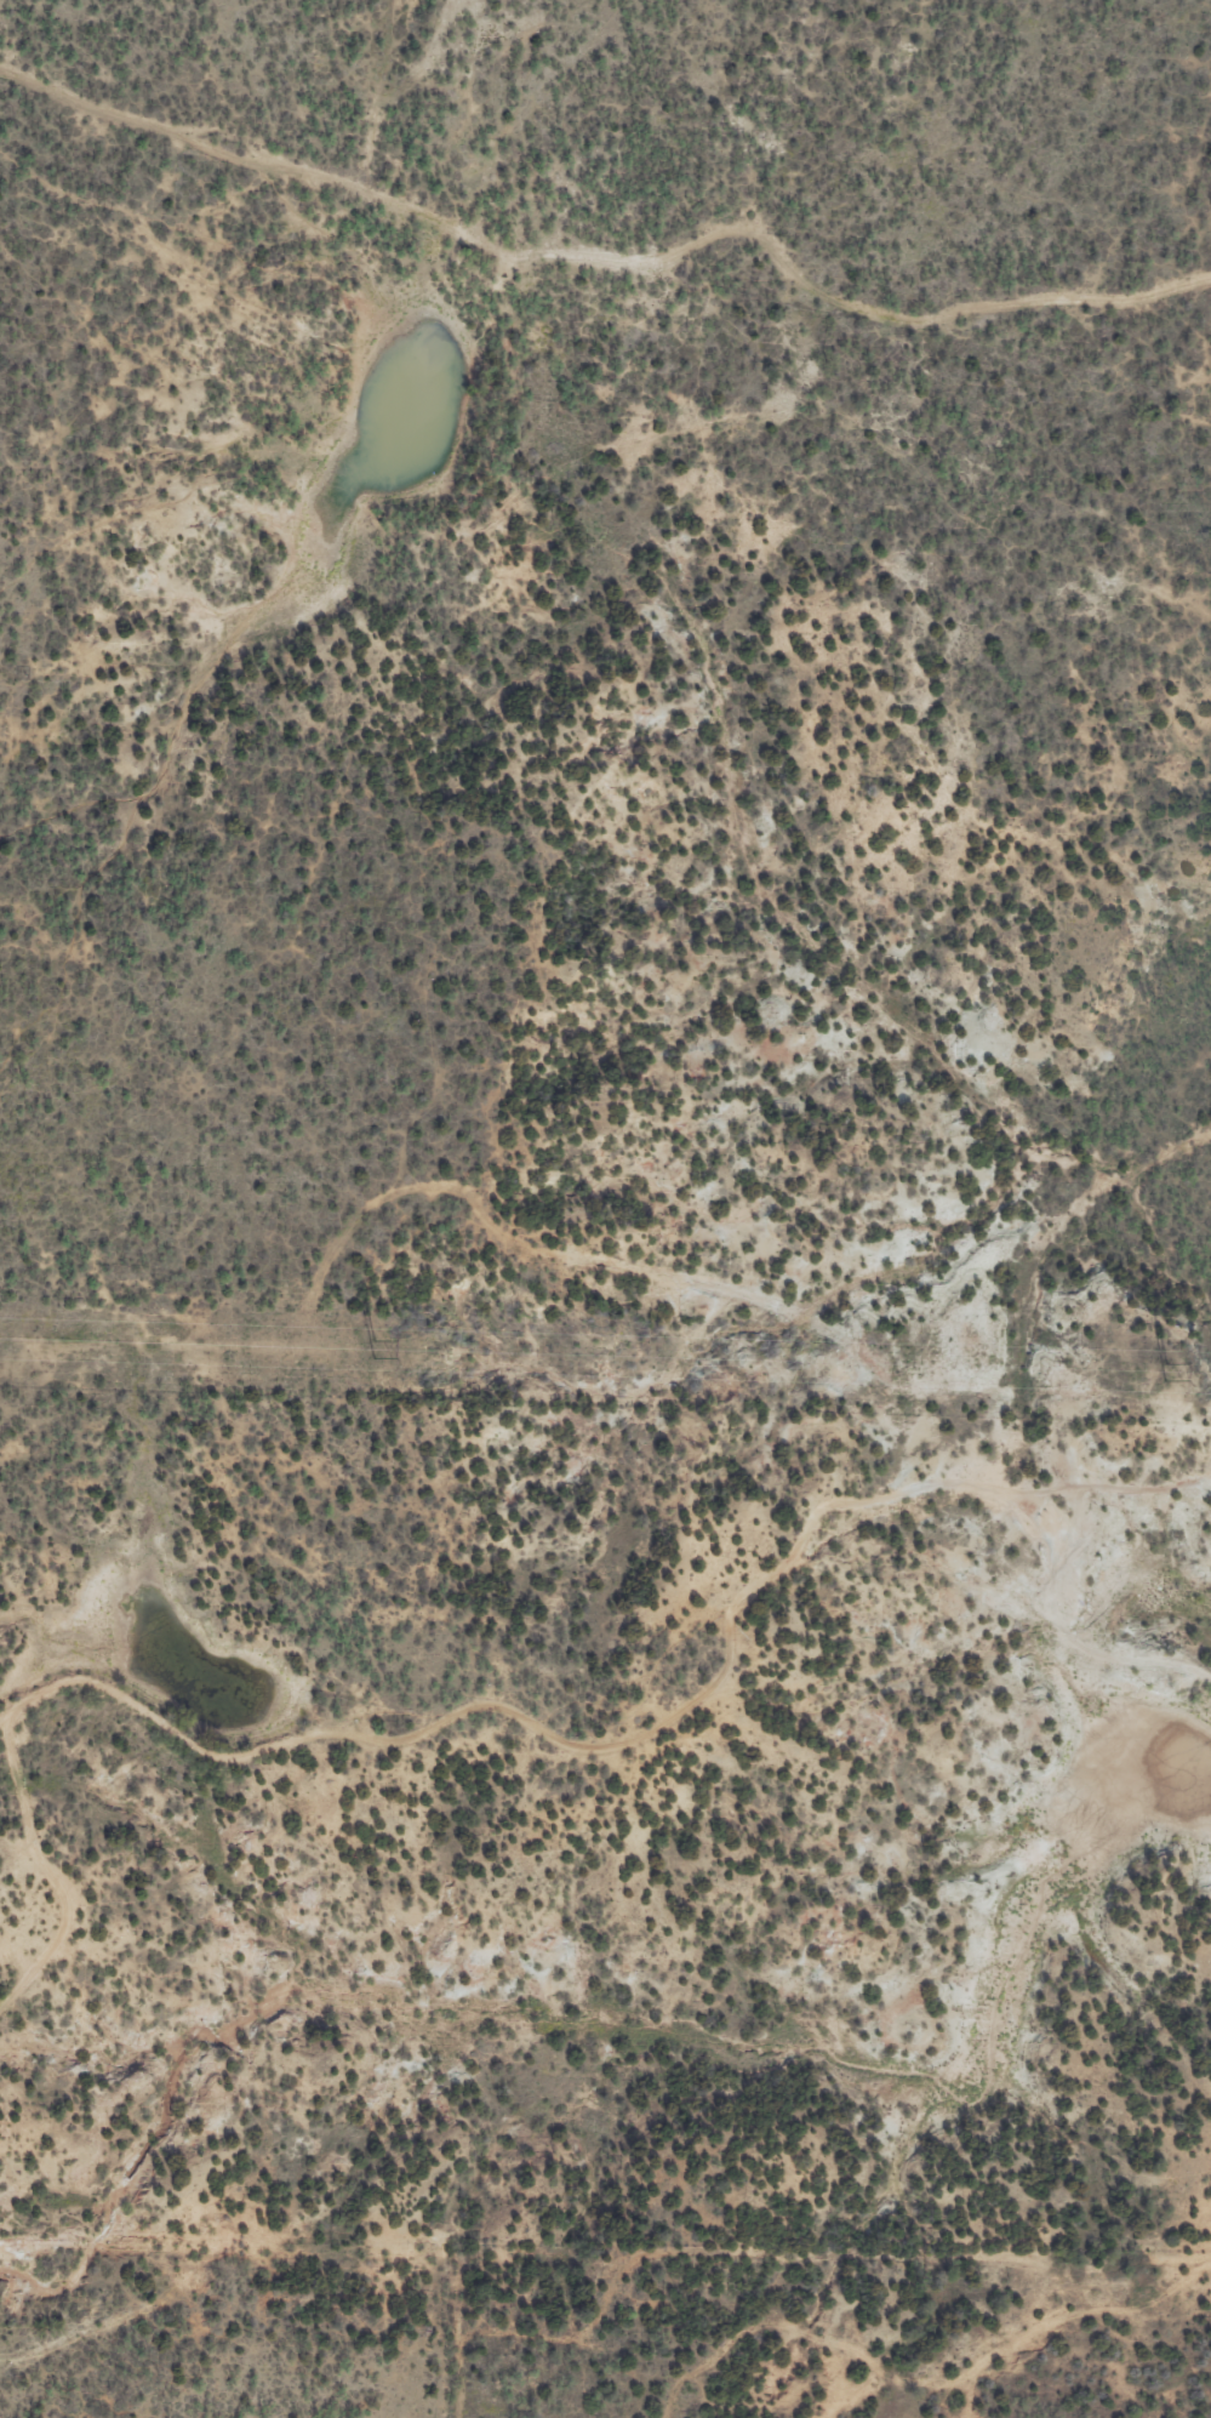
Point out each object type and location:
road: (126, 250)
power tower: (369, 1350)
power tower: (1163, 1375)

